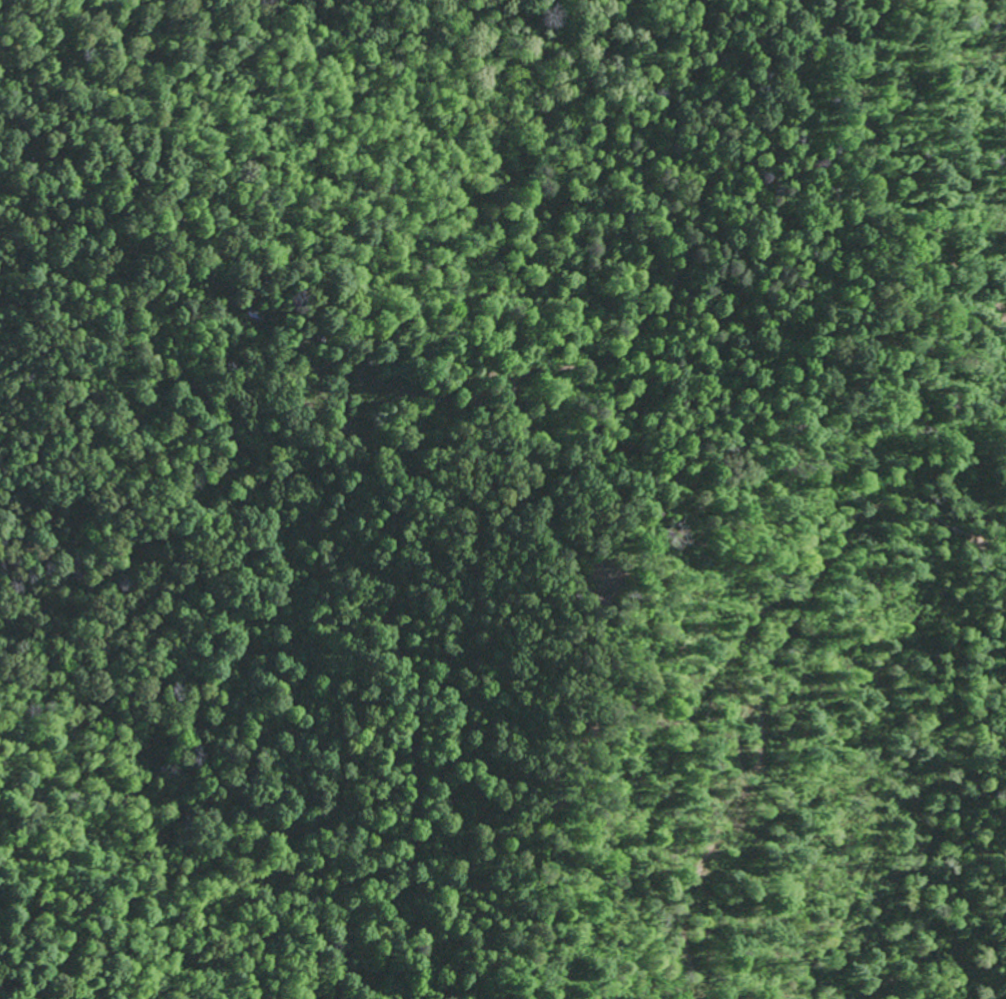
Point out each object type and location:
road: (824, 24)
road: (906, 211)
road: (639, 328)
road: (135, 434)

